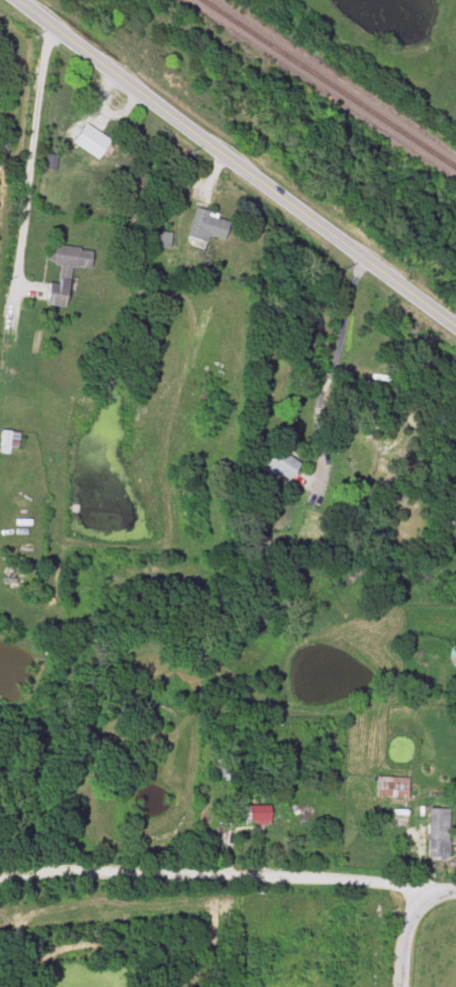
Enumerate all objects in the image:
railway: (326, 86)
building: (86, 141)
road: (28, 153)
road: (235, 163)
building: (204, 225)
building: (156, 239)
building: (65, 273)
road: (333, 362)
building: (8, 442)
building: (278, 464)
building: (222, 773)
building: (388, 786)
building: (261, 813)
building: (435, 832)
road: (420, 863)
road: (227, 879)
road: (402, 938)

